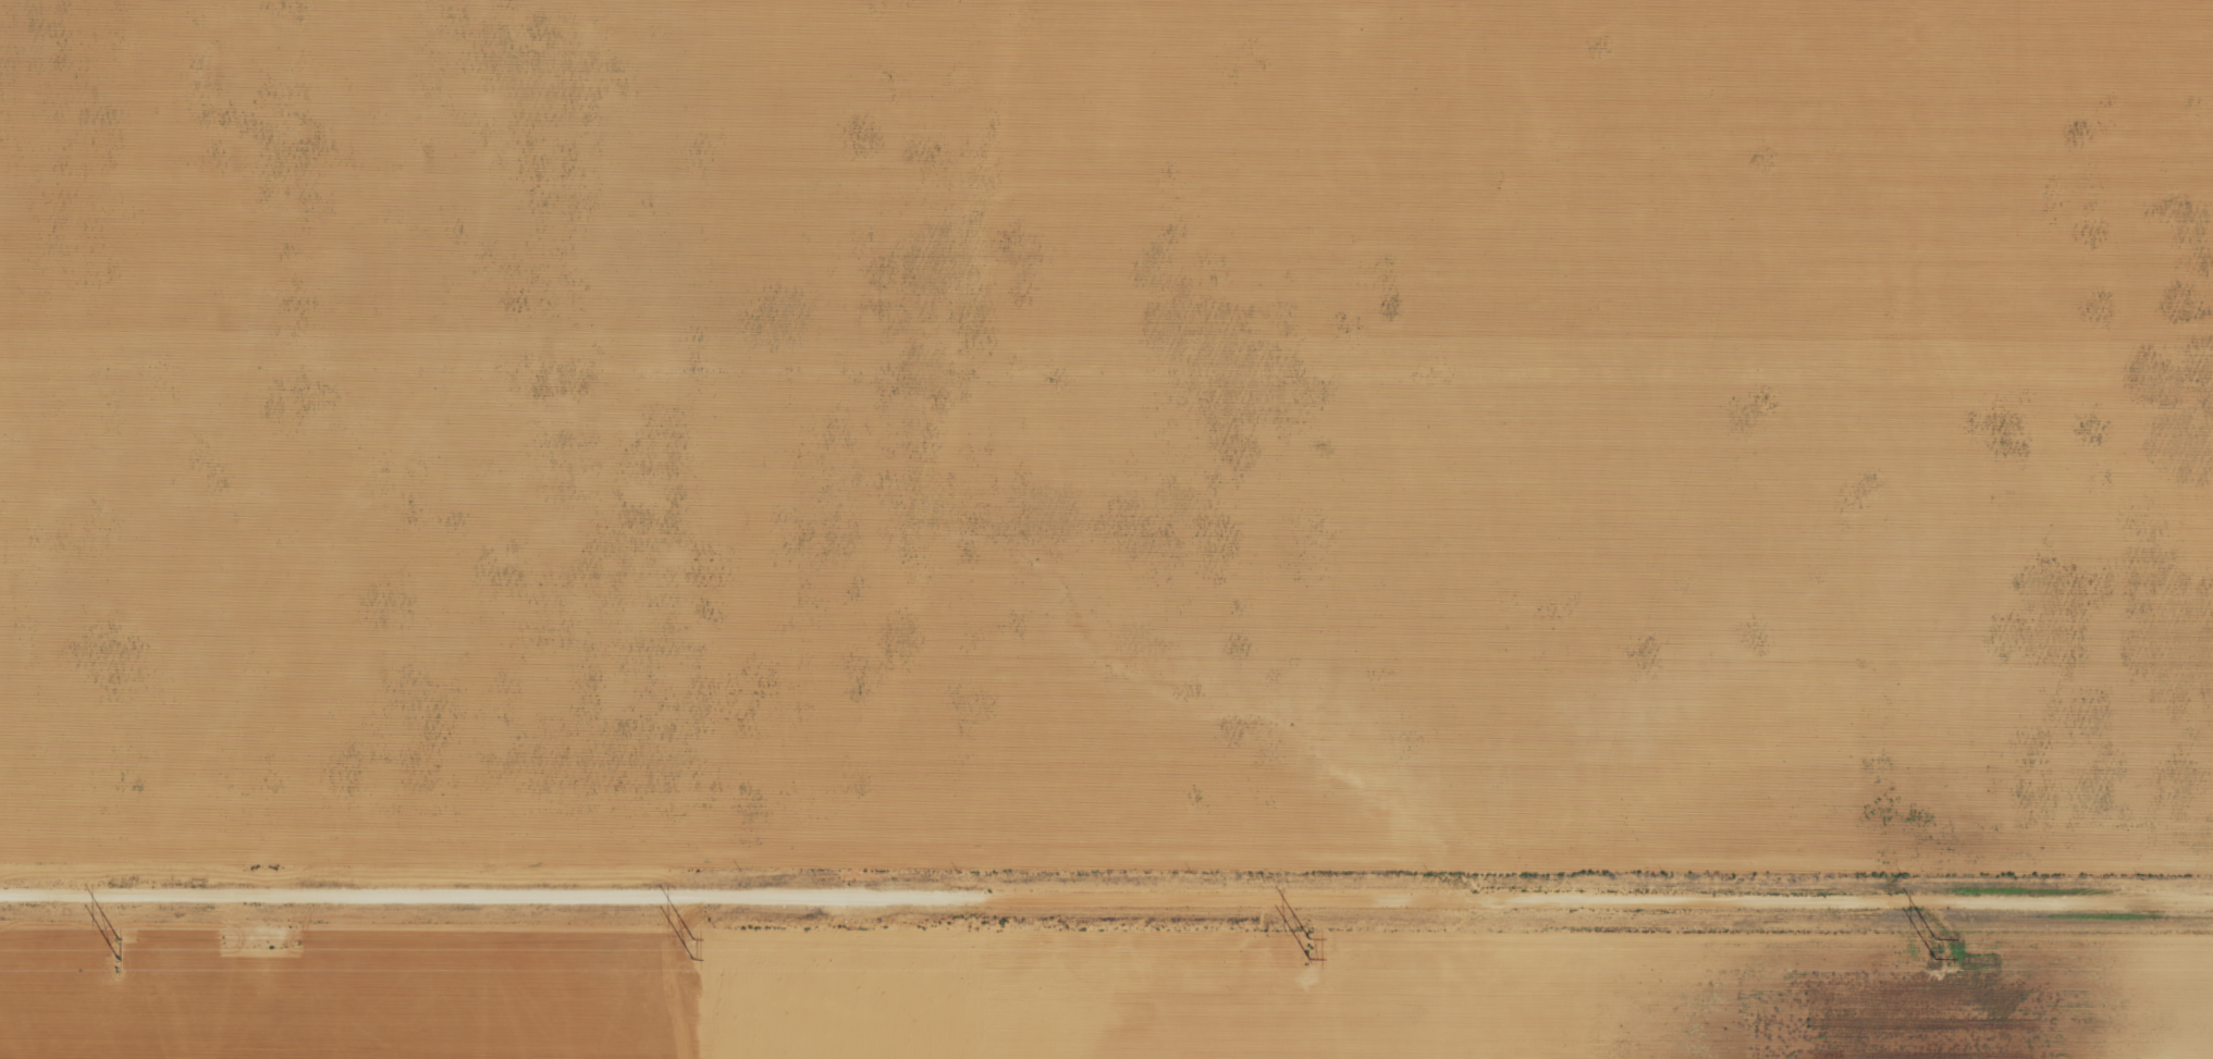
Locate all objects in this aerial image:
road: (1106, 885)
power tower: (112, 934)
power tower: (684, 936)
power tower: (1300, 937)
power tower: (1926, 938)

